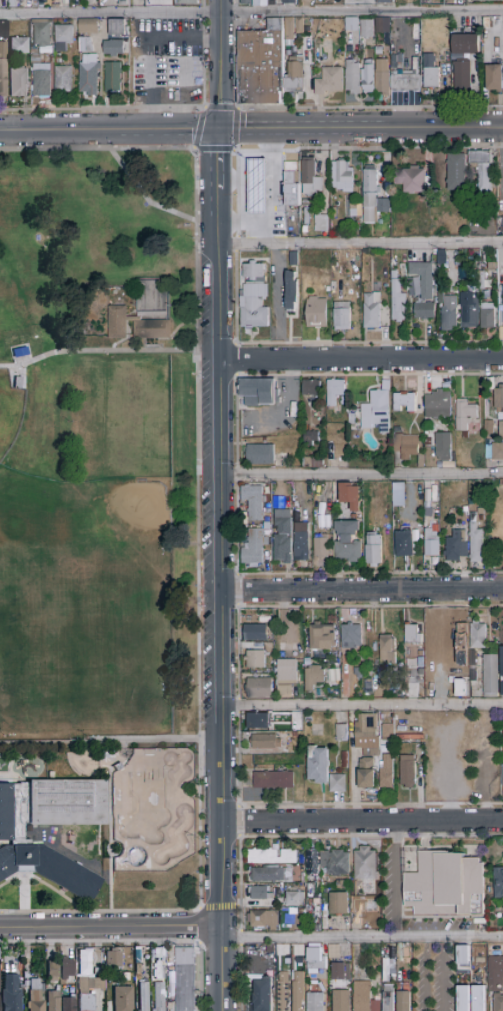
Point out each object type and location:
building: (461, 0)
building: (486, 1)
building: (189, 2)
building: (245, 2)
building: (384, 2)
building: (123, 3)
building: (260, 3)
building: (289, 3)
building: (13, 4)
road: (251, 14)
building: (307, 22)
building: (497, 22)
building: (486, 23)
building: (352, 25)
building: (299, 26)
building: (383, 26)
building: (89, 27)
building: (4, 28)
building: (306, 28)
building: (118, 29)
building: (366, 31)
building: (42, 35)
building: (63, 37)
building: (290, 37)
building: (378, 43)
building: (465, 44)
building: (86, 45)
building: (20, 46)
building: (113, 48)
road: (146, 50)
building: (378, 51)
building: (34, 57)
road: (221, 65)
building: (261, 65)
building: (3, 69)
building: (430, 72)
building: (89, 74)
building: (368, 75)
building: (461, 75)
building: (112, 77)
building: (353, 77)
building: (404, 77)
building: (382, 78)
building: (494, 78)
building: (294, 79)
building: (64, 80)
building: (329, 81)
building: (18, 83)
building: (42, 83)
road: (102, 109)
road: (203, 112)
road: (361, 129)
road: (109, 130)
traffic signals: (219, 130)
road: (243, 167)
building: (482, 168)
building: (457, 172)
building: (341, 176)
building: (310, 178)
building: (411, 180)
building: (291, 184)
road: (270, 187)
building: (255, 188)
building: (387, 189)
road: (143, 197)
building: (373, 198)
building: (353, 206)
building: (333, 213)
road: (244, 217)
building: (321, 224)
building: (502, 226)
road: (360, 244)
building: (293, 259)
building: (491, 266)
building: (452, 267)
building: (334, 269)
building: (254, 272)
building: (421, 280)
building: (483, 282)
building: (502, 285)
building: (385, 286)
building: (333, 287)
building: (377, 287)
building: (328, 289)
road: (274, 290)
building: (291, 291)
building: (151, 293)
building: (438, 299)
building: (398, 300)
building: (255, 306)
building: (469, 310)
building: (372, 311)
building: (424, 312)
building: (152, 313)
building: (316, 313)
building: (448, 314)
building: (501, 314)
building: (487, 316)
building: (342, 317)
building: (117, 322)
building: (154, 330)
building: (18, 347)
road: (97, 351)
road: (361, 359)
building: (411, 383)
building: (311, 389)
building: (479, 389)
building: (334, 391)
building: (259, 392)
building: (498, 399)
building: (404, 403)
building: (438, 405)
building: (358, 411)
building: (378, 411)
park: (10, 412)
building: (465, 415)
building: (351, 419)
building: (488, 429)
building: (400, 430)
building: (500, 431)
building: (310, 438)
building: (428, 443)
building: (406, 446)
building: (443, 447)
building: (432, 452)
building: (494, 452)
building: (260, 455)
building: (421, 461)
building: (311, 463)
building: (448, 466)
road: (139, 472)
road: (362, 474)
building: (395, 492)
building: (350, 496)
building: (314, 499)
building: (255, 501)
building: (428, 501)
building: (465, 510)
building: (427, 512)
building: (480, 512)
building: (482, 518)
building: (282, 522)
building: (296, 525)
park: (101, 531)
road: (198, 532)
park: (114, 534)
building: (347, 541)
building: (476, 541)
building: (404, 543)
building: (431, 544)
building: (301, 546)
building: (321, 546)
building: (456, 546)
building: (254, 548)
building: (282, 549)
building: (373, 550)
building: (266, 555)
road: (221, 570)
road: (361, 589)
building: (255, 633)
building: (412, 635)
building: (478, 636)
building: (321, 637)
building: (351, 637)
building: (451, 639)
building: (275, 642)
building: (387, 650)
building: (361, 651)
building: (320, 655)
building: (256, 659)
building: (473, 659)
building: (466, 661)
building: (307, 662)
park: (20, 663)
park: (75, 665)
park: (137, 666)
building: (335, 670)
building: (428, 671)
building: (285, 672)
building: (356, 672)
building: (502, 675)
building: (490, 677)
building: (313, 678)
building: (421, 678)
building: (429, 679)
building: (336, 682)
building: (369, 687)
building: (259, 689)
park: (14, 692)
building: (428, 693)
road: (362, 705)
building: (258, 721)
building: (387, 732)
building: (341, 733)
building: (502, 734)
building: (367, 735)
building: (265, 742)
building: (345, 761)
road: (448, 763)
building: (318, 765)
building: (271, 768)
building: (386, 772)
building: (407, 772)
building: (366, 774)
building: (502, 776)
building: (273, 780)
building: (338, 784)
park: (152, 809)
road: (448, 810)
road: (362, 823)
road: (285, 837)
building: (15, 841)
building: (272, 857)
building: (312, 862)
building: (335, 863)
building: (365, 864)
building: (296, 873)
building: (272, 874)
road: (395, 880)
building: (498, 882)
building: (368, 885)
building: (444, 886)
building: (309, 890)
building: (259, 893)
building: (294, 899)
building: (355, 899)
building: (338, 903)
road: (220, 908)
building: (355, 908)
building: (301, 911)
building: (263, 920)
building: (325, 920)
building: (372, 925)
road: (111, 927)
road: (362, 938)
building: (270, 949)
building: (481, 951)
building: (461, 954)
building: (403, 955)
building: (157, 958)
building: (114, 959)
building: (316, 959)
building: (281, 962)
building: (27, 966)
building: (67, 969)
building: (138, 969)
building: (53, 971)
building: (341, 972)
building: (496, 974)
building: (26, 975)
building: (126, 977)
building: (183, 978)
building: (27, 983)
building: (89, 987)
building: (298, 991)
building: (283, 992)
building: (11, 994)
building: (36, 996)
building: (144, 996)
building: (263, 996)
building: (159, 997)
building: (389, 997)
building: (364, 998)
building: (462, 998)
building: (123, 999)
building: (54, 1001)
building: (341, 1001)
building: (403, 1001)
building: (315, 1002)
building: (498, 1002)
building: (68, 1004)
building: (473, 1004)

